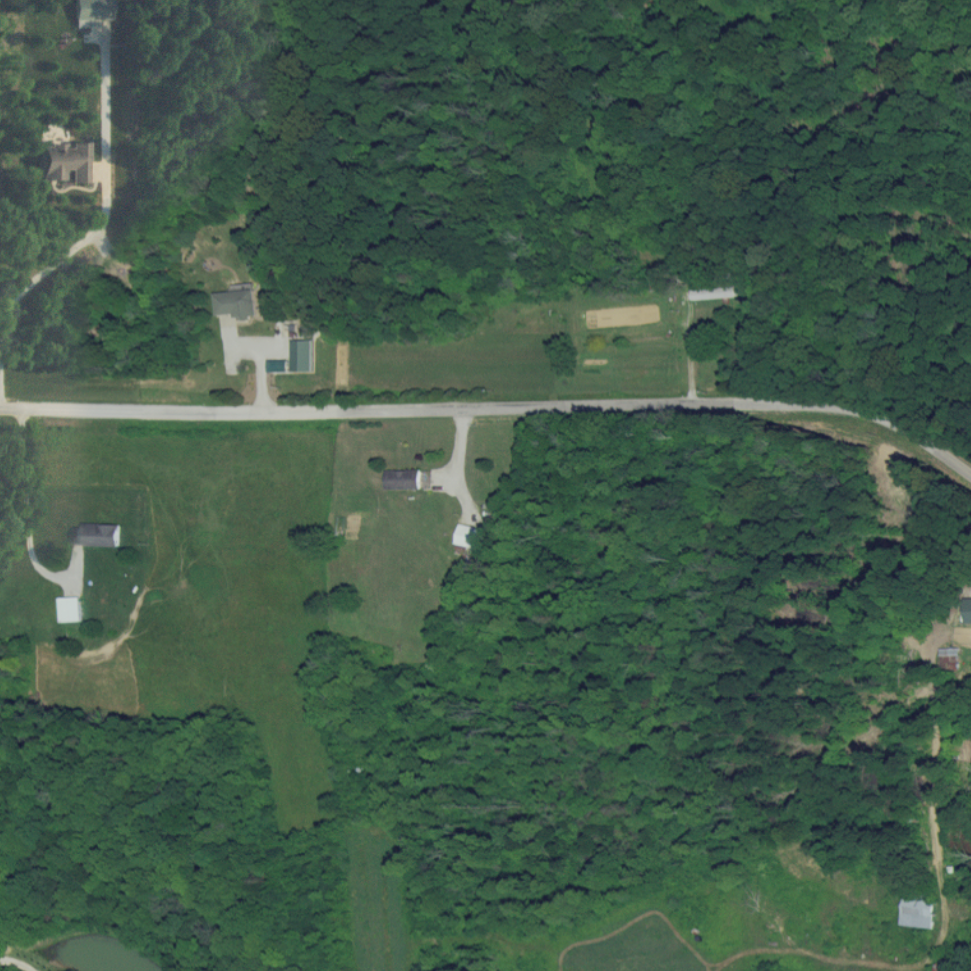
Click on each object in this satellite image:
building: (88, 10)
building: (61, 161)
road: (105, 209)
building: (712, 292)
building: (235, 303)
road: (689, 353)
building: (300, 355)
road: (494, 409)
road: (459, 463)
building: (401, 478)
road: (24, 516)
building: (94, 533)
building: (469, 535)
building: (69, 608)
building: (964, 621)
building: (917, 912)

